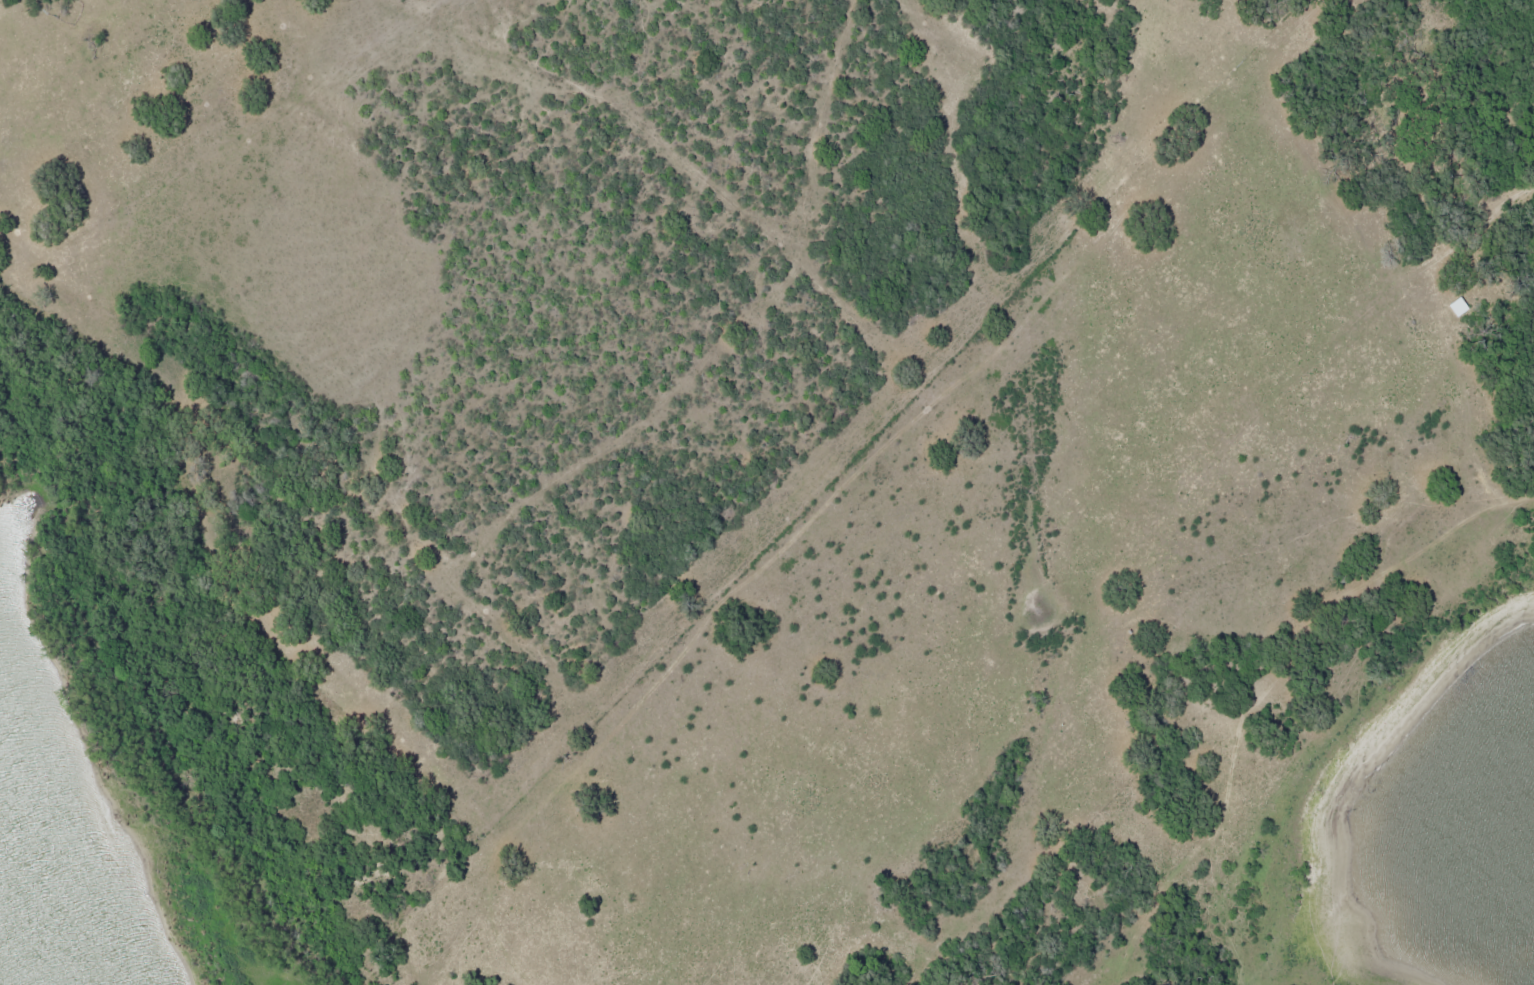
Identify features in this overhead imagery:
road: (423, 2)
river: (52, 872)

